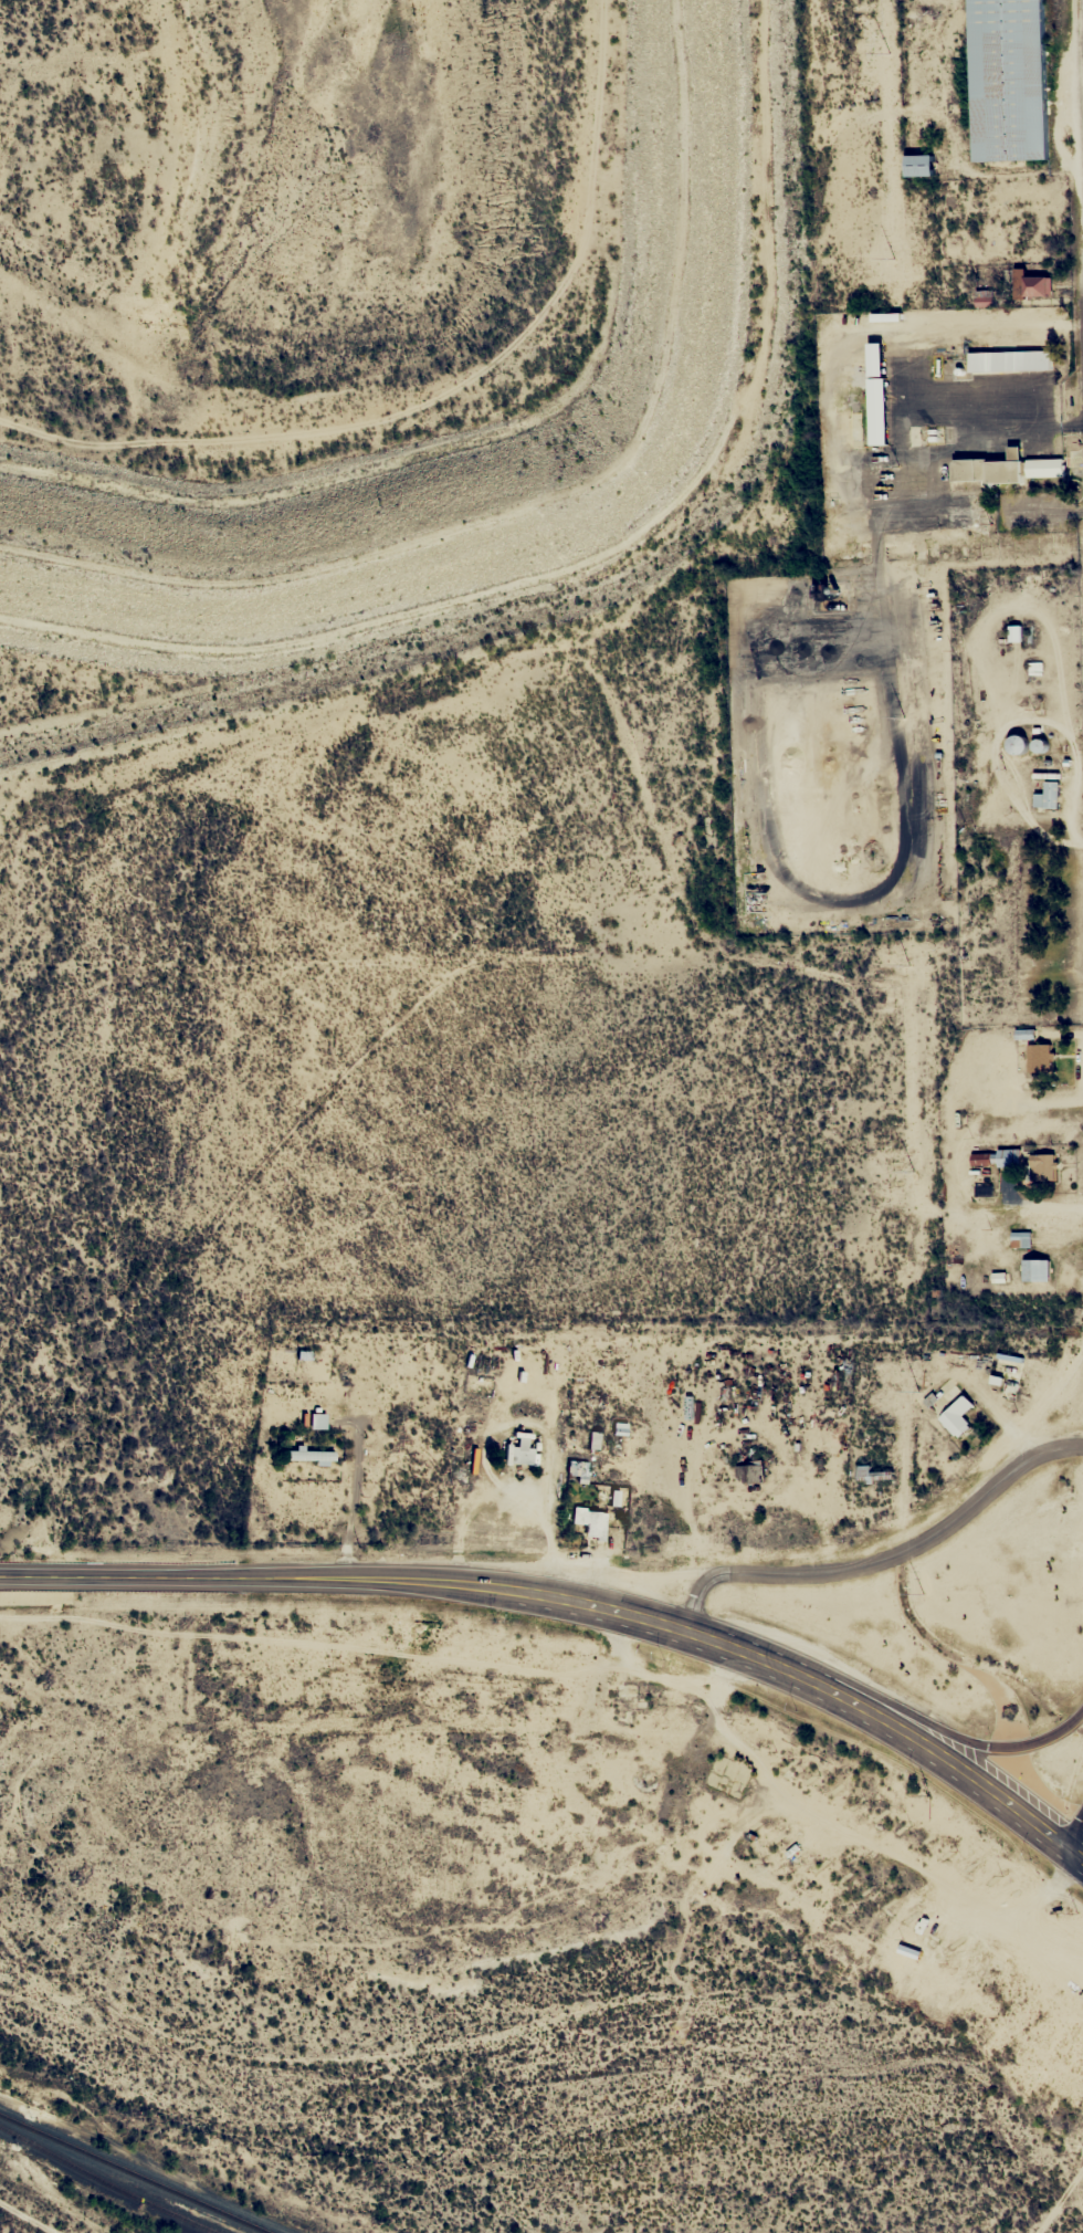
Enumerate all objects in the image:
building: (1008, 78)
building: (917, 165)
building: (1030, 285)
building: (1006, 359)
building: (872, 394)
building: (1005, 469)
building: (1014, 633)
building: (1016, 745)
building: (1047, 796)
building: (1039, 1058)
building: (1007, 1157)
building: (1042, 1167)
building: (1020, 1239)
building: (1034, 1269)
building: (1005, 1382)
building: (956, 1416)
building: (316, 1420)
building: (521, 1450)
building: (308, 1455)
building: (748, 1471)
building: (864, 1474)
building: (590, 1522)
road: (882, 1559)
road: (393, 1579)
road: (930, 1723)
road: (926, 1743)
road: (1073, 1828)
road: (1070, 1849)
road: (1080, 1856)
road: (918, 1872)
railway: (134, 2173)
railway: (108, 2182)

